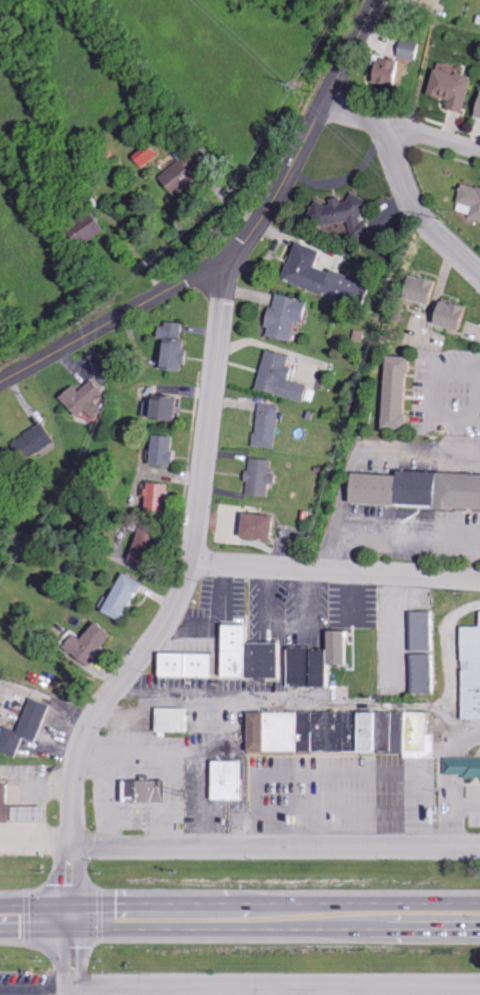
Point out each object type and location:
building: (412, 49)
building: (394, 72)
building: (456, 86)
road: (428, 135)
building: (152, 155)
building: (191, 172)
road: (401, 184)
building: (471, 201)
building: (346, 214)
building: (95, 228)
road: (242, 245)
building: (329, 277)
building: (427, 289)
building: (291, 315)
building: (177, 347)
building: (285, 377)
building: (402, 392)
building: (88, 399)
road: (432, 407)
building: (170, 408)
building: (271, 425)
building: (37, 441)
building: (167, 450)
road: (460, 456)
road: (361, 458)
building: (263, 477)
building: (416, 488)
building: (5, 493)
building: (161, 498)
building: (266, 526)
road: (388, 532)
building: (150, 547)
road: (335, 570)
building: (126, 597)
road: (179, 600)
road: (226, 623)
road: (391, 628)
building: (427, 631)
building: (93, 643)
building: (257, 655)
building: (321, 662)
building: (195, 665)
building: (469, 670)
building: (428, 672)
road: (297, 702)
building: (178, 720)
road: (224, 722)
building: (28, 728)
building: (333, 731)
road: (172, 753)
building: (461, 768)
road: (248, 776)
road: (37, 778)
building: (233, 780)
road: (205, 782)
building: (140, 789)
road: (113, 796)
building: (7, 803)
road: (468, 806)
building: (31, 814)
road: (454, 826)
road: (35, 837)
road: (275, 847)
road: (282, 902)
road: (43, 917)
road: (282, 930)
road: (74, 955)
road: (277, 984)
road: (147, 989)
road: (297, 989)
road: (431, 989)
road: (459, 989)

